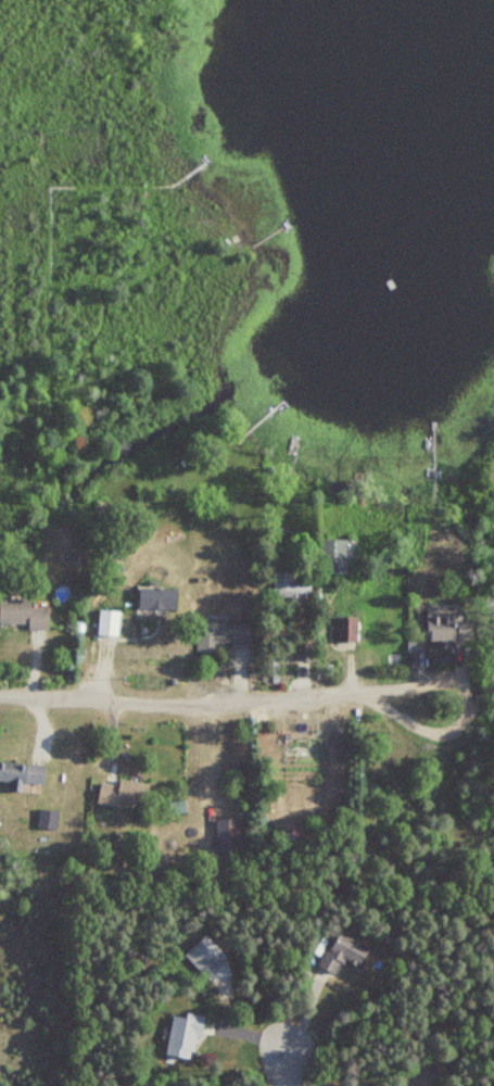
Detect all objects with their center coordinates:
building: (333, 556)
building: (291, 584)
building: (155, 599)
building: (21, 615)
building: (105, 623)
building: (345, 630)
building: (436, 631)
building: (219, 633)
building: (150, 649)
road: (220, 695)
road: (470, 703)
building: (21, 775)
building: (122, 794)
building: (225, 835)
building: (341, 955)
building: (181, 1036)
road: (287, 1059)

